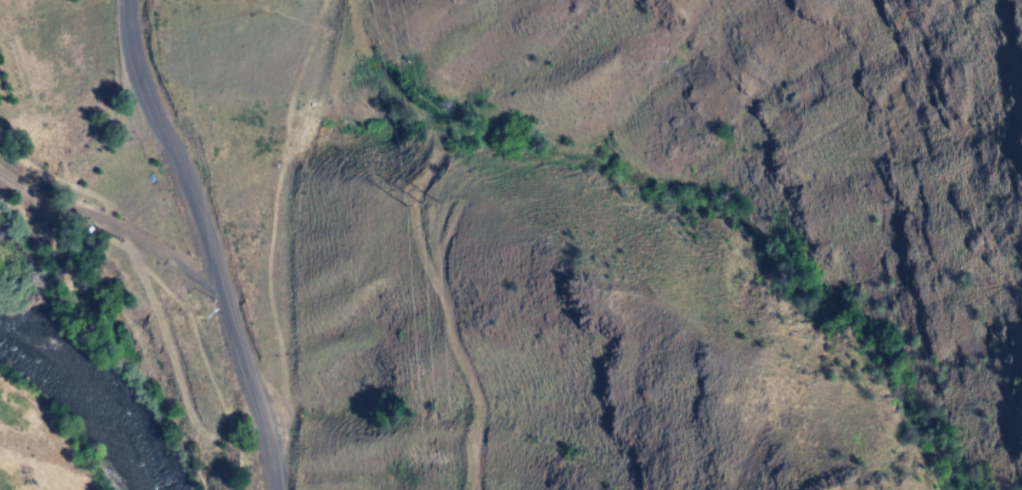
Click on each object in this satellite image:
power tower: (419, 205)
road: (117, 231)
road: (207, 242)
river: (91, 397)

